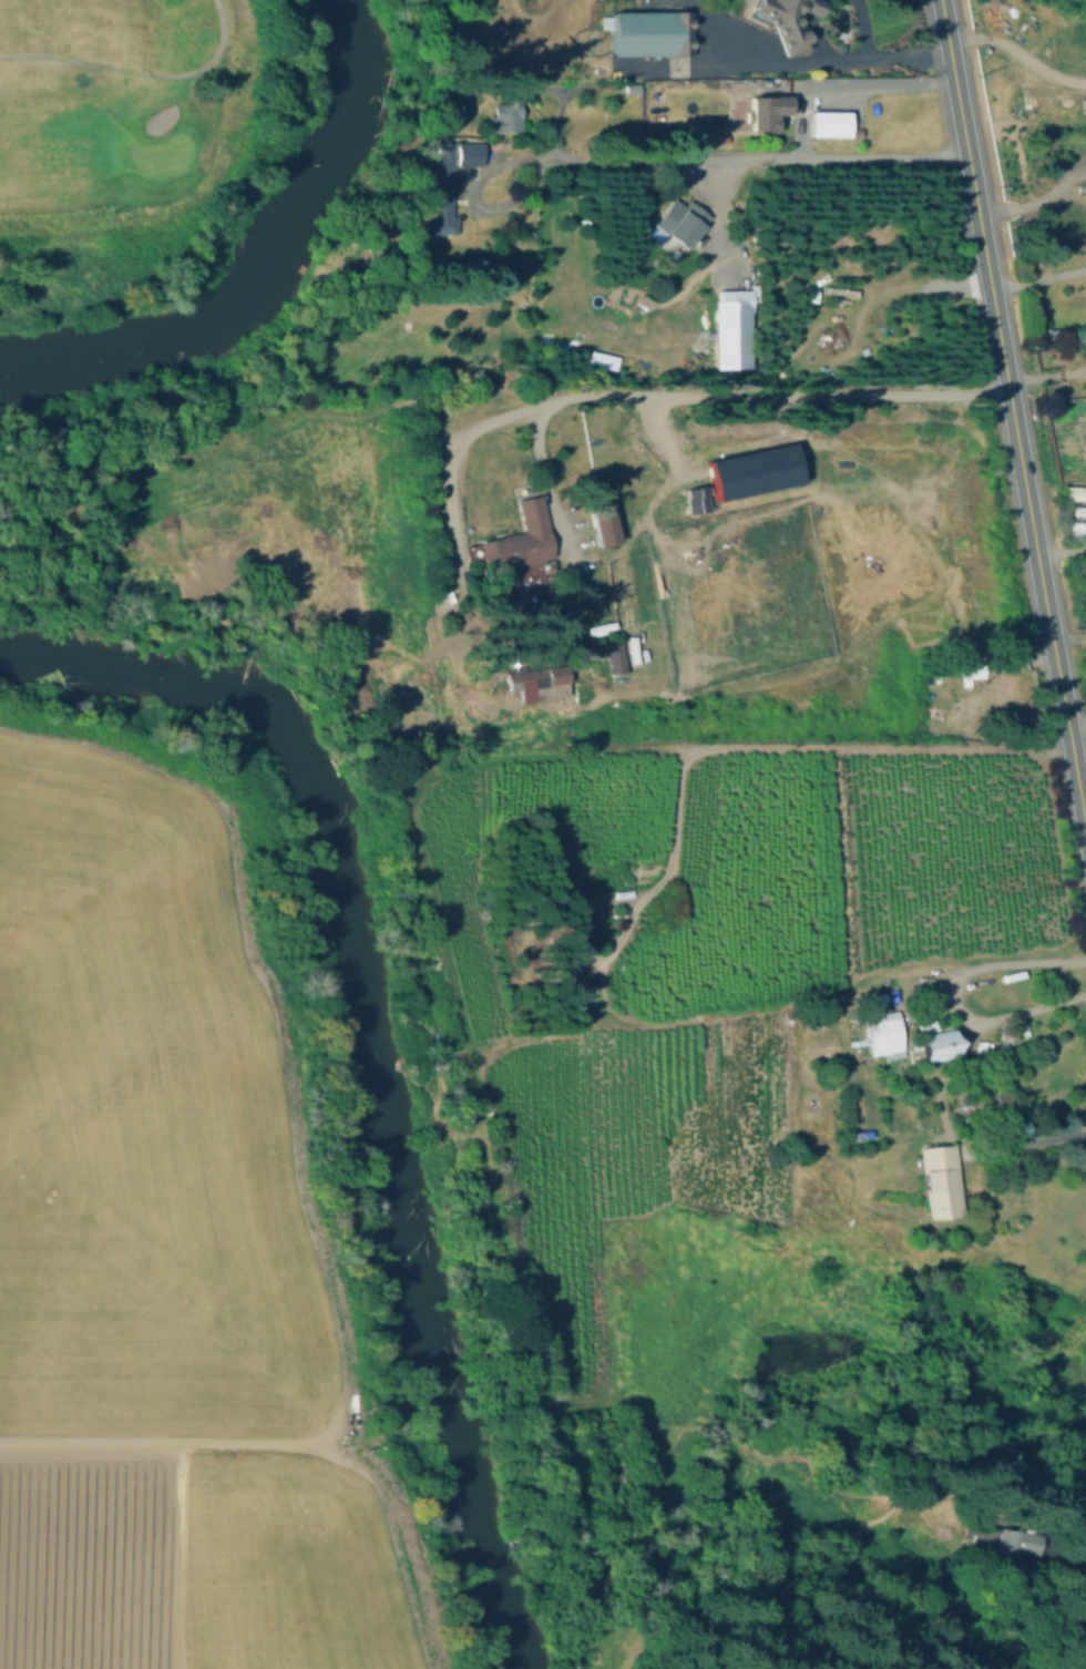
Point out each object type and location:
road: (816, 9)
building: (787, 20)
road: (860, 28)
building: (652, 33)
road: (814, 38)
road: (1017, 55)
road: (824, 57)
road: (137, 70)
road: (843, 84)
building: (516, 88)
road: (560, 111)
building: (767, 111)
building: (505, 119)
building: (832, 124)
park: (113, 131)
building: (467, 153)
park: (161, 154)
road: (658, 157)
road: (720, 178)
building: (443, 187)
building: (1085, 188)
road: (1035, 199)
building: (682, 223)
river: (270, 258)
road: (1038, 278)
building: (735, 304)
building: (480, 371)
road: (1046, 373)
road: (628, 396)
road: (1013, 413)
building: (751, 471)
road: (544, 480)
building: (693, 499)
building: (606, 524)
building: (519, 543)
road: (1063, 552)
road: (1068, 632)
building: (597, 649)
building: (541, 683)
road: (1077, 734)
crop: (759, 805)
road: (660, 878)
building: (581, 938)
road: (955, 993)
river: (372, 1001)
building: (884, 1035)
building: (932, 1042)
building: (986, 1105)
road: (1038, 1140)
building: (941, 1181)
crop: (160, 1269)
road: (155, 1452)
building: (1008, 1546)
river: (539, 1634)

